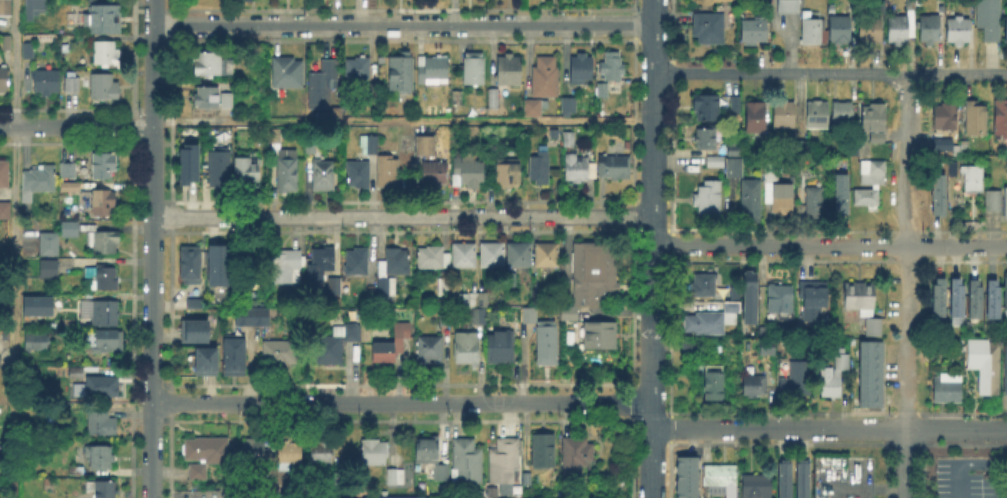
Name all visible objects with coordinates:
building: (787, 6)
building: (828, 7)
building: (6, 8)
building: (34, 8)
building: (941, 9)
building: (104, 17)
building: (990, 21)
road: (404, 24)
building: (870, 27)
building: (808, 30)
building: (708, 31)
building: (1006, 31)
building: (754, 32)
building: (840, 32)
building: (929, 32)
building: (898, 33)
building: (959, 33)
building: (6, 43)
building: (29, 50)
building: (106, 52)
building: (211, 63)
building: (612, 68)
building: (474, 69)
building: (581, 69)
building: (434, 70)
building: (508, 71)
road: (830, 71)
building: (288, 72)
building: (402, 72)
building: (360, 74)
building: (4, 78)
building: (544, 78)
building: (47, 81)
building: (73, 81)
building: (105, 86)
building: (325, 88)
building: (603, 91)
building: (207, 97)
building: (457, 97)
building: (497, 98)
building: (227, 99)
building: (568, 106)
building: (715, 106)
building: (535, 107)
building: (783, 117)
building: (817, 117)
building: (842, 117)
building: (756, 118)
building: (946, 118)
building: (1000, 118)
road: (403, 119)
building: (874, 123)
building: (976, 123)
road: (76, 127)
building: (555, 134)
building: (706, 139)
building: (569, 140)
building: (309, 144)
building: (370, 145)
building: (426, 145)
building: (799, 145)
building: (944, 147)
building: (964, 147)
building: (738, 150)
building: (716, 161)
building: (186, 162)
building: (285, 163)
building: (104, 164)
building: (615, 166)
building: (735, 166)
building: (220, 167)
building: (540, 167)
building: (579, 168)
building: (248, 169)
building: (873, 169)
building: (69, 170)
building: (388, 171)
building: (5, 172)
building: (435, 172)
building: (468, 172)
building: (508, 172)
building: (358, 173)
building: (324, 175)
building: (969, 176)
building: (38, 181)
building: (71, 186)
building: (777, 193)
building: (870, 193)
building: (940, 195)
building: (841, 196)
building: (709, 197)
building: (751, 197)
building: (991, 199)
building: (815, 200)
building: (104, 201)
building: (1004, 201)
building: (5, 209)
road: (404, 216)
building: (70, 227)
building: (104, 240)
building: (50, 243)
road: (827, 246)
road: (151, 248)
road: (15, 249)
road: (653, 249)
road: (907, 250)
building: (464, 254)
building: (520, 254)
building: (547, 254)
building: (493, 255)
building: (434, 257)
building: (323, 260)
building: (358, 260)
building: (254, 261)
building: (216, 263)
building: (191, 265)
building: (286, 266)
building: (49, 268)
building: (392, 271)
building: (594, 271)
building: (104, 276)
building: (513, 279)
building: (703, 286)
building: (334, 287)
building: (444, 287)
building: (539, 289)
building: (728, 290)
building: (1006, 292)
building: (860, 297)
building: (939, 297)
building: (958, 297)
building: (471, 298)
building: (748, 298)
building: (976, 298)
building: (781, 299)
building: (813, 299)
building: (994, 299)
building: (39, 304)
building: (195, 305)
building: (477, 307)
building: (101, 311)
building: (569, 312)
building: (251, 315)
building: (446, 318)
building: (713, 319)
building: (874, 326)
building: (195, 329)
building: (599, 334)
building: (544, 337)
building: (37, 341)
building: (111, 341)
building: (393, 343)
building: (337, 344)
building: (501, 347)
building: (768, 347)
building: (430, 348)
building: (467, 348)
building: (687, 348)
building: (232, 353)
building: (280, 353)
building: (204, 359)
building: (0, 360)
building: (986, 364)
building: (1005, 369)
building: (77, 371)
building: (835, 374)
building: (872, 374)
building: (794, 376)
building: (714, 378)
building: (101, 386)
building: (756, 386)
building: (77, 388)
building: (948, 388)
road: (403, 403)
building: (101, 422)
road: (827, 429)
building: (205, 449)
building: (289, 449)
building: (427, 449)
building: (544, 450)
building: (255, 451)
building: (322, 452)
building: (374, 453)
building: (99, 456)
building: (577, 457)
building: (467, 460)
building: (505, 460)
road: (907, 463)
road: (967, 465)
building: (442, 471)
building: (197, 472)
building: (394, 476)
building: (688, 477)
building: (721, 479)
building: (784, 479)
building: (802, 479)
building: (758, 486)
building: (103, 489)
building: (406, 497)

